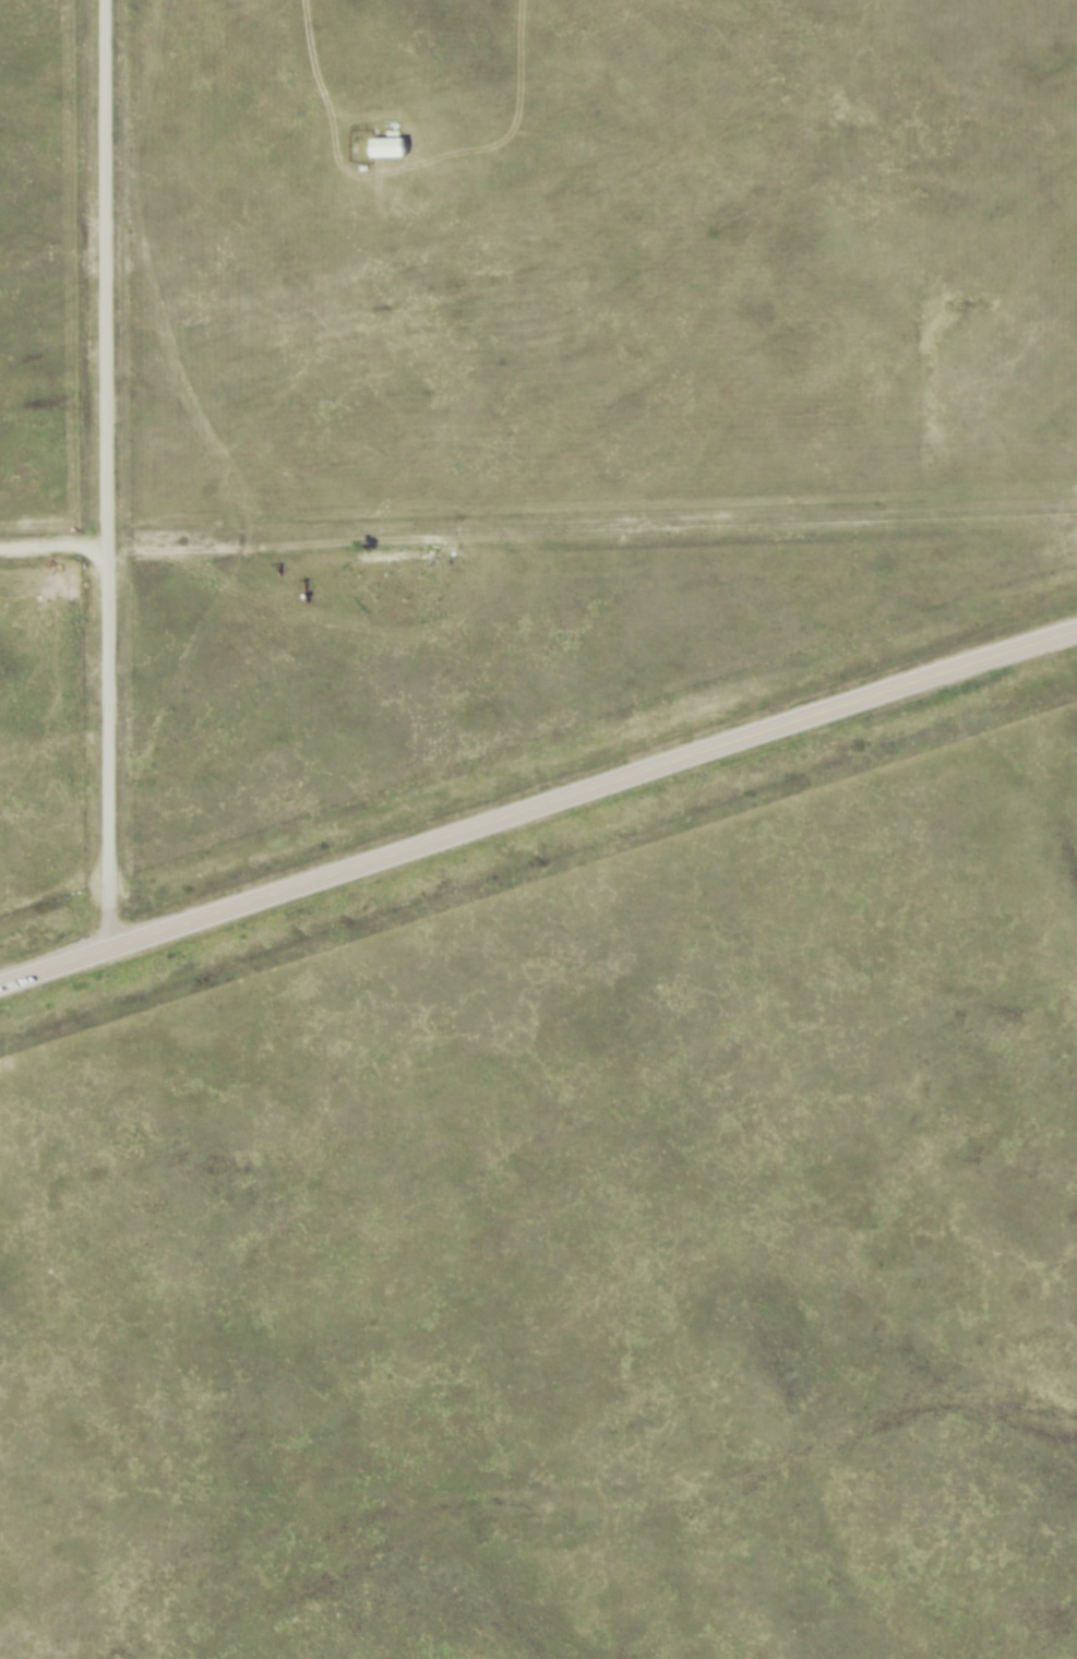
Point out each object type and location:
road: (104, 478)
road: (53, 552)
road: (537, 811)

